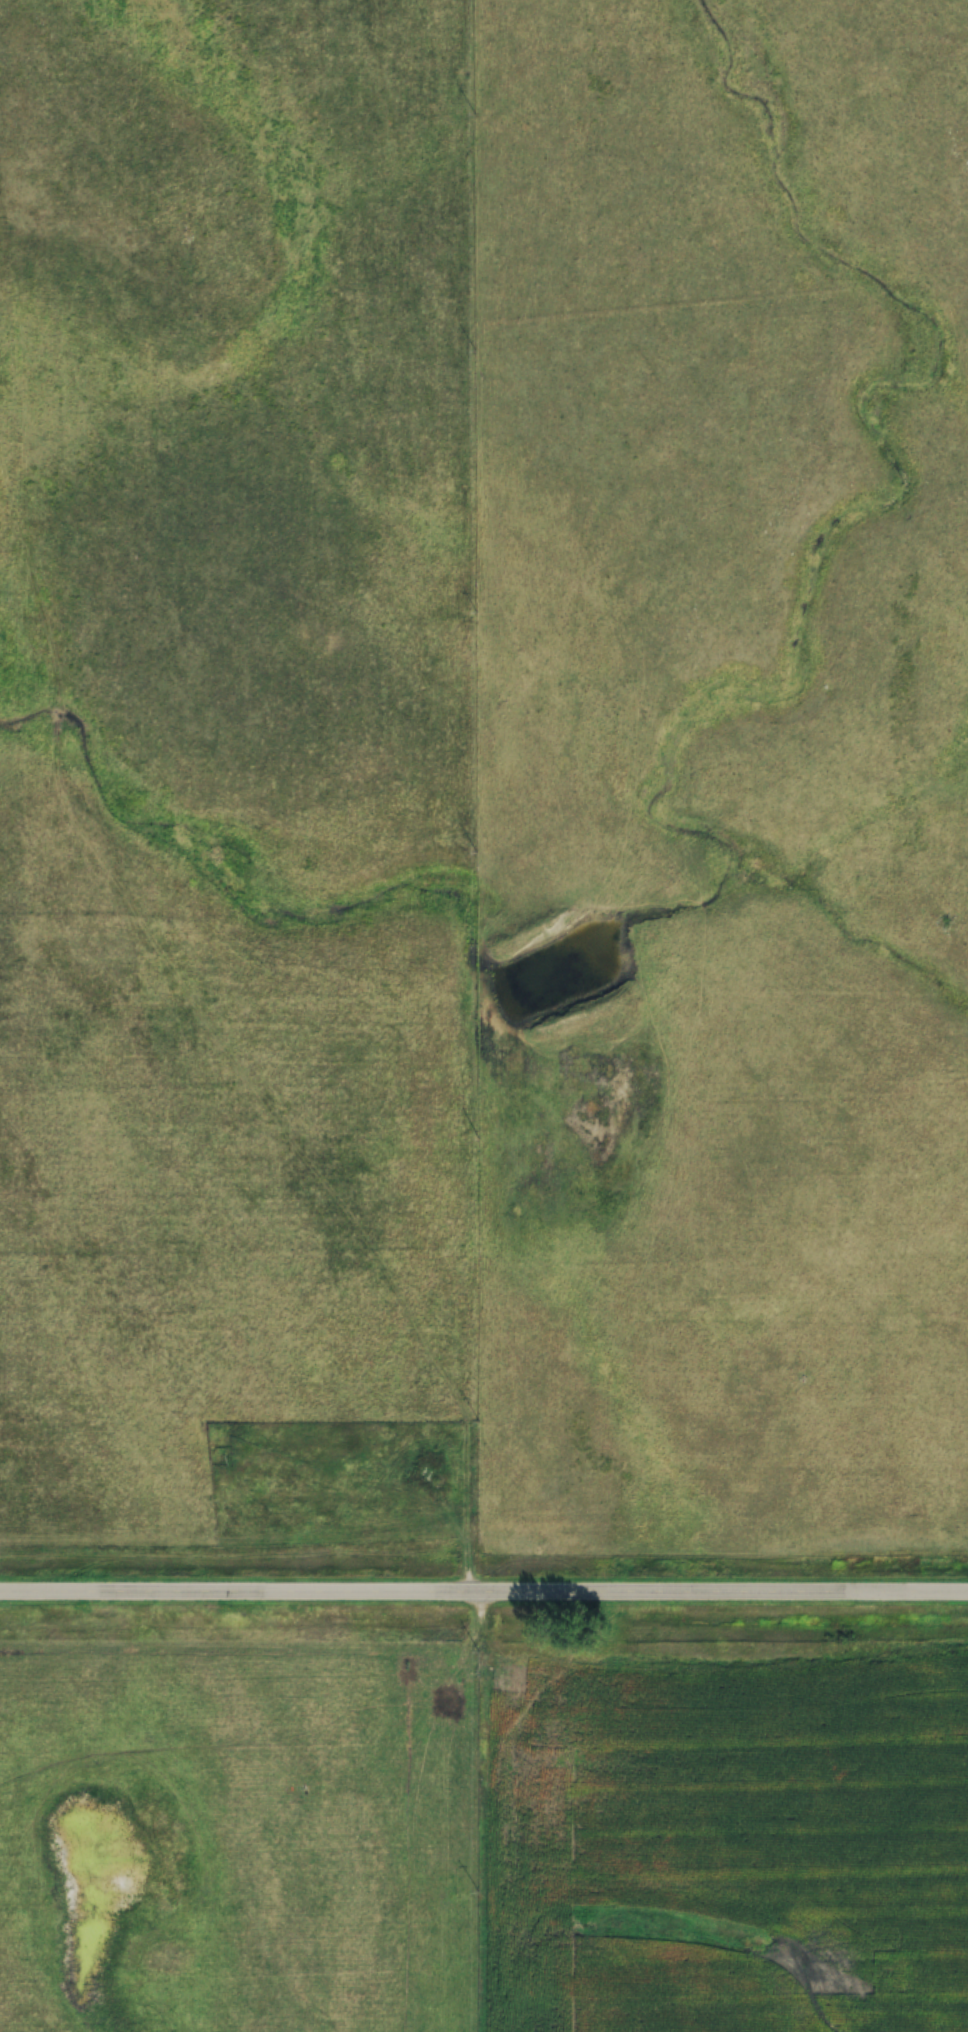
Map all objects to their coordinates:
road: (483, 1587)

